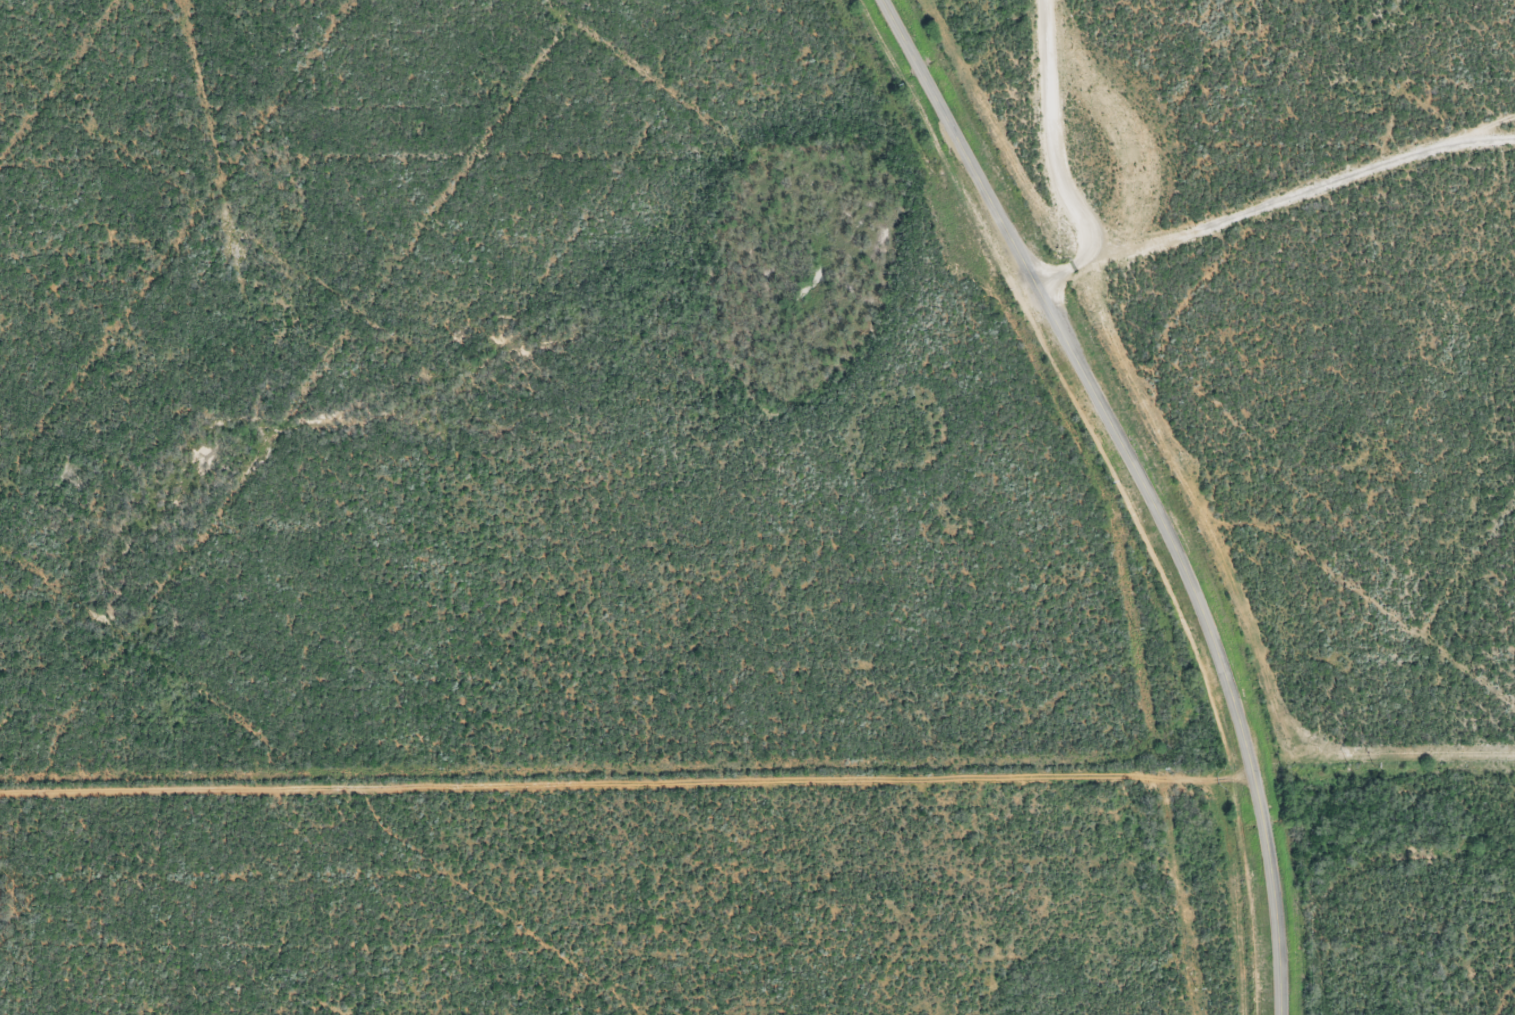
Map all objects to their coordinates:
road: (247, 115)
road: (1077, 120)
road: (1288, 223)
road: (1141, 477)

